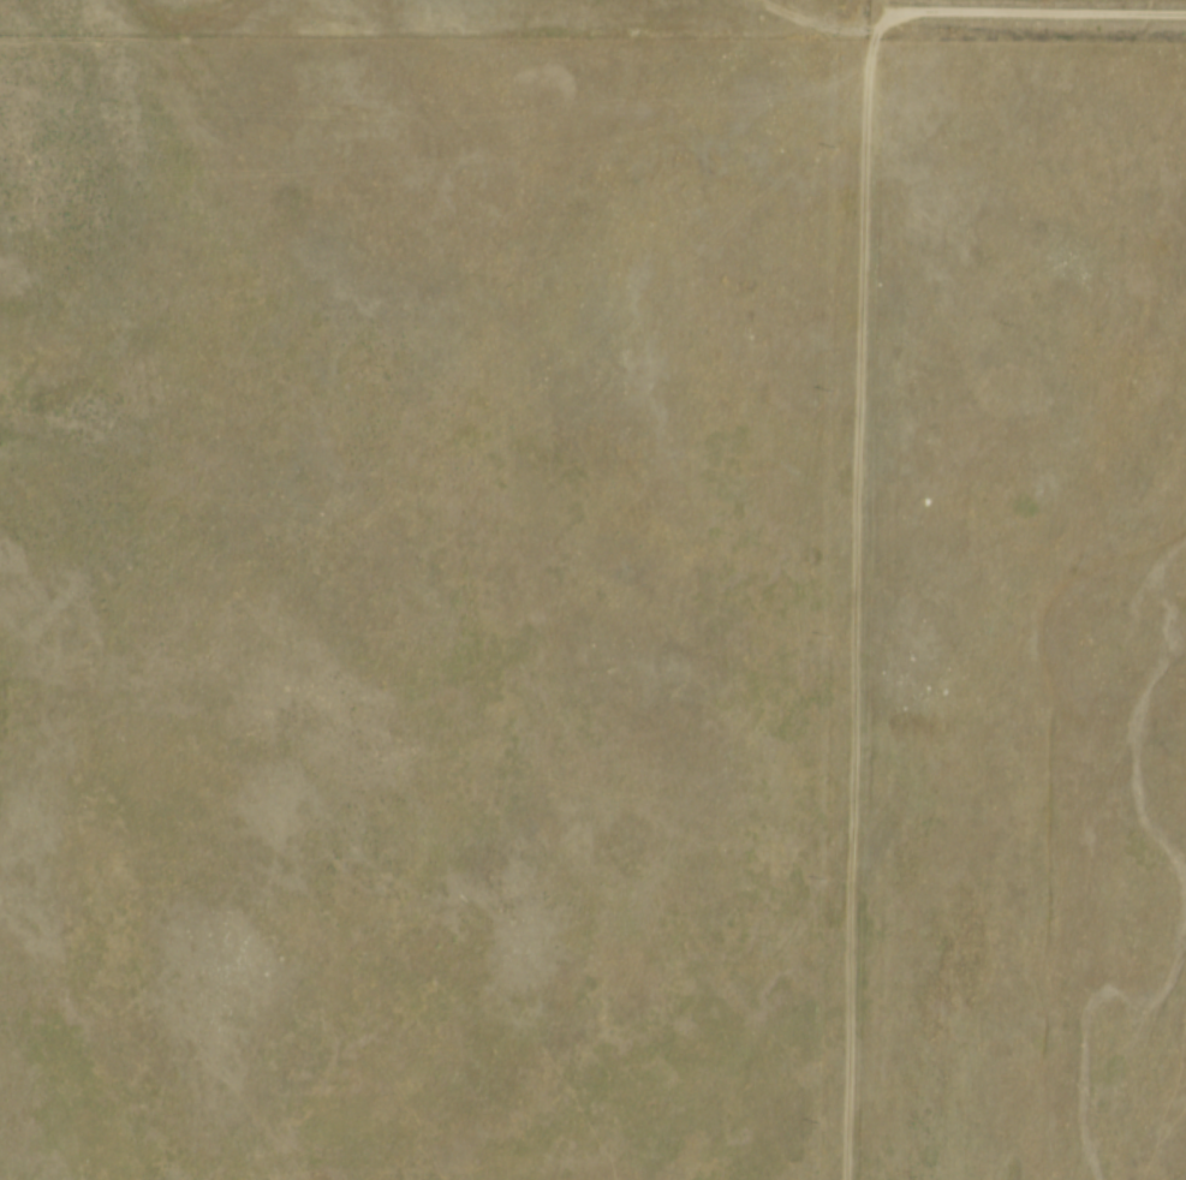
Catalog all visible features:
road: (1039, 10)

